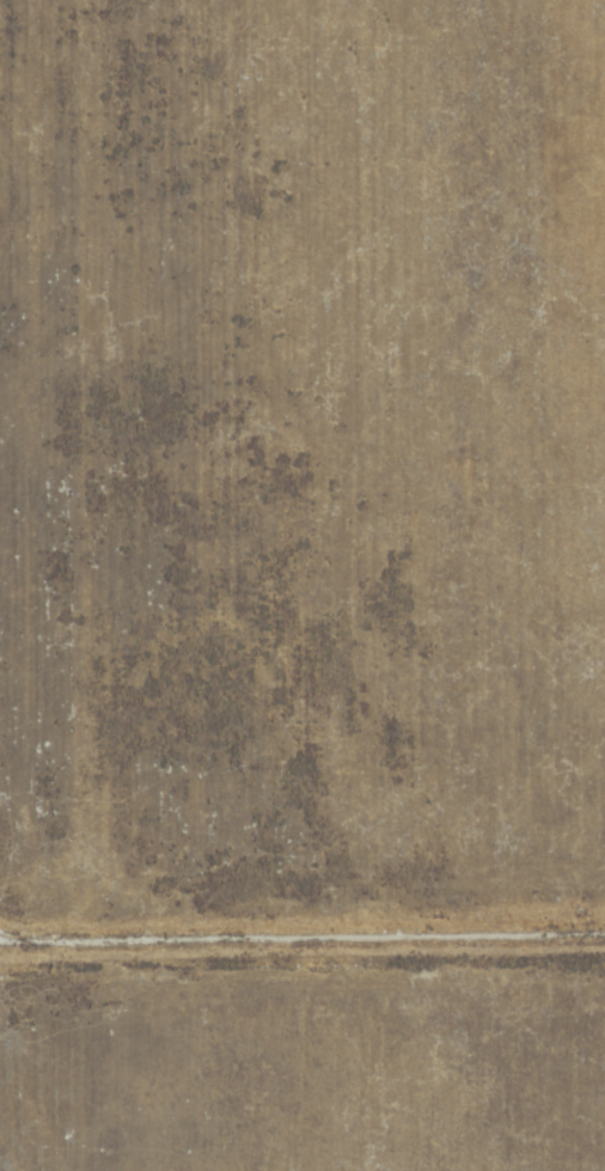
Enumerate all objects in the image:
crop: (302, 585)
park: (302, 585)

